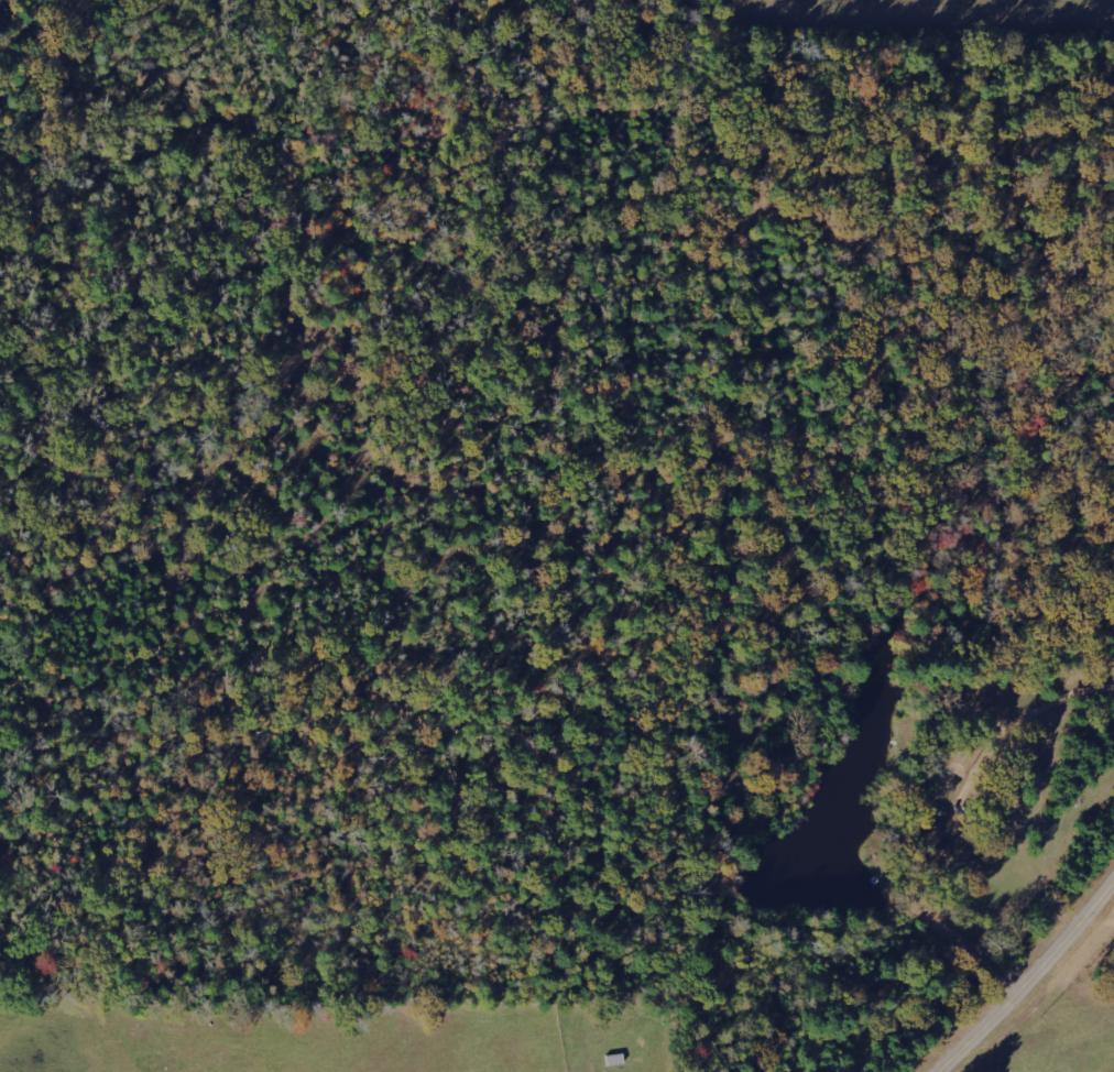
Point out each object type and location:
road: (1041, 708)
road: (597, 895)
road: (1026, 976)

